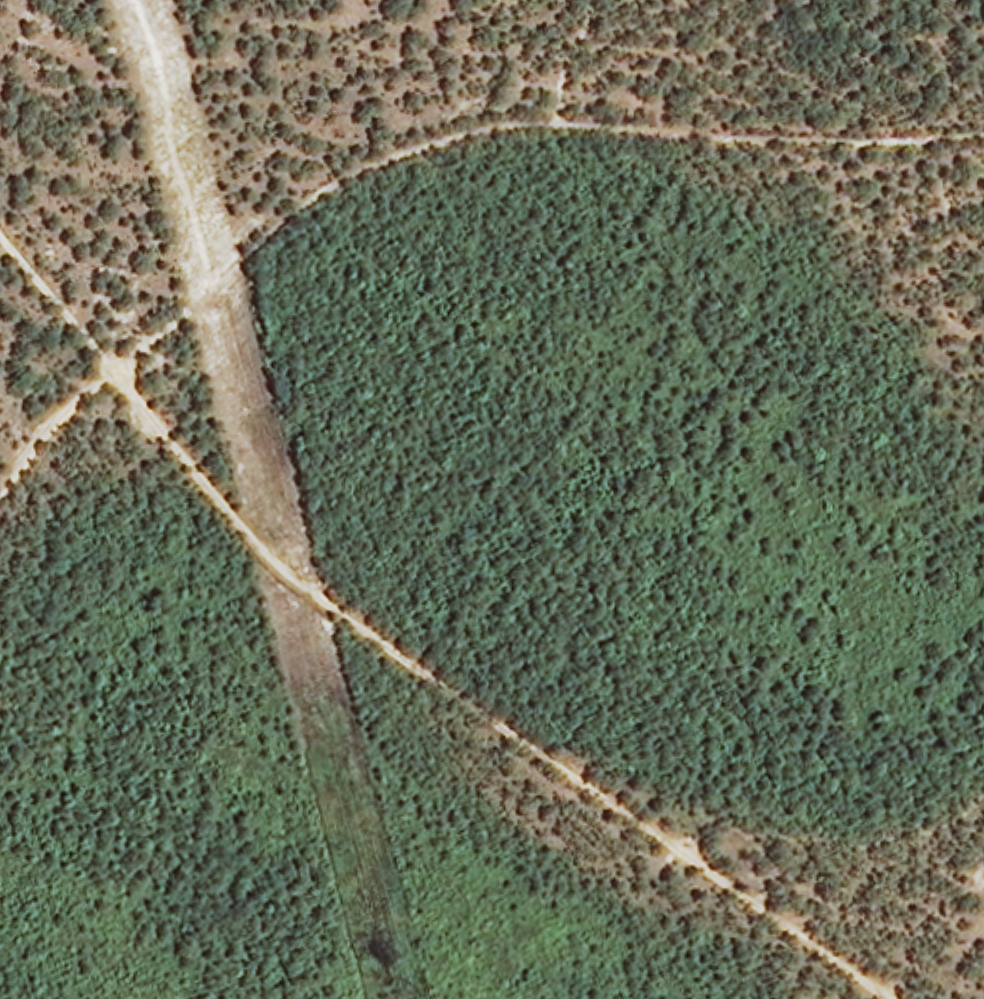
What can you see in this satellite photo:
power tower: (157, 72)
power tower: (276, 534)
road: (422, 653)
power tower: (398, 996)

